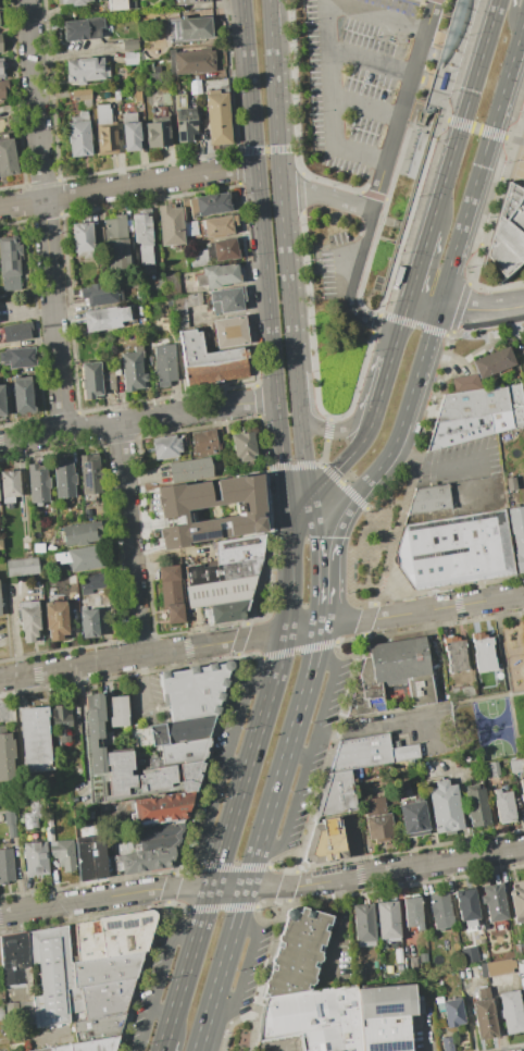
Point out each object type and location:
building: (73, 2)
building: (191, 2)
road: (447, 2)
building: (116, 4)
road: (512, 16)
building: (82, 28)
building: (188, 29)
road: (522, 30)
building: (0, 46)
building: (129, 46)
road: (330, 49)
road: (438, 51)
building: (130, 58)
building: (189, 60)
road: (456, 60)
road: (373, 63)
building: (1, 69)
building: (86, 70)
building: (152, 75)
road: (422, 77)
parking lot: (366, 79)
road: (294, 85)
building: (196, 87)
building: (2, 91)
building: (115, 94)
building: (80, 95)
building: (137, 95)
building: (104, 96)
road: (406, 104)
road: (367, 109)
road: (463, 114)
building: (216, 118)
building: (158, 128)
road: (476, 128)
building: (185, 129)
building: (105, 132)
building: (130, 132)
building: (78, 135)
road: (407, 138)
road: (275, 149)
building: (7, 157)
road: (328, 182)
road: (127, 186)
road: (299, 190)
road: (326, 195)
road: (373, 196)
road: (259, 199)
road: (498, 200)
road: (279, 202)
building: (208, 205)
road: (385, 205)
road: (411, 208)
road: (499, 210)
road: (45, 217)
building: (114, 224)
building: (217, 225)
building: (170, 226)
building: (189, 228)
building: (144, 236)
building: (83, 238)
building: (508, 238)
building: (221, 249)
building: (117, 255)
building: (197, 258)
road: (420, 262)
building: (10, 263)
road: (367, 263)
parking lot: (344, 265)
road: (321, 270)
building: (217, 275)
road: (352, 284)
road: (441, 285)
building: (188, 290)
building: (100, 294)
road: (423, 298)
building: (225, 300)
road: (459, 306)
building: (183, 308)
road: (479, 311)
road: (404, 312)
road: (310, 317)
building: (107, 318)
road: (377, 322)
road: (415, 324)
building: (17, 332)
building: (229, 333)
building: (523, 342)
road: (395, 345)
building: (17, 357)
building: (209, 360)
building: (492, 362)
building: (164, 364)
building: (133, 370)
building: (90, 380)
road: (360, 381)
building: (465, 383)
road: (383, 386)
building: (22, 395)
building: (2, 403)
road: (260, 407)
building: (476, 415)
road: (138, 420)
road: (334, 430)
road: (325, 441)
building: (204, 443)
building: (165, 446)
building: (244, 446)
road: (358, 447)
road: (324, 467)
road: (435, 468)
road: (416, 469)
building: (189, 470)
road: (305, 472)
building: (89, 477)
road: (285, 478)
road: (392, 478)
building: (63, 479)
building: (37, 483)
building: (511, 484)
building: (9, 485)
traffic signals: (313, 495)
building: (429, 498)
building: (490, 508)
building: (89, 509)
road: (302, 511)
building: (171, 512)
road: (270, 522)
road: (380, 528)
building: (79, 533)
building: (517, 534)
traffic signals: (328, 537)
road: (129, 540)
building: (0, 544)
building: (237, 548)
building: (454, 549)
building: (80, 558)
traffic signals: (292, 558)
building: (23, 567)
road: (326, 567)
building: (220, 571)
building: (72, 579)
building: (90, 582)
building: (217, 591)
building: (171, 593)
road: (292, 595)
building: (225, 610)
road: (423, 610)
road: (324, 611)
building: (55, 619)
road: (367, 619)
building: (28, 620)
building: (88, 623)
road: (305, 629)
road: (240, 639)
road: (350, 639)
road: (300, 648)
building: (483, 652)
road: (249, 654)
building: (454, 654)
road: (144, 655)
road: (503, 661)
building: (392, 675)
road: (145, 680)
building: (194, 691)
building: (467, 691)
park: (498, 705)
building: (117, 710)
building: (60, 724)
road: (372, 724)
park: (497, 728)
building: (185, 729)
building: (34, 738)
building: (109, 738)
building: (182, 752)
building: (370, 753)
road: (330, 754)
road: (301, 755)
building: (5, 756)
road: (310, 759)
road: (227, 761)
building: (126, 764)
building: (516, 764)
road: (209, 765)
road: (238, 767)
building: (490, 769)
building: (358, 774)
building: (522, 791)
building: (336, 794)
building: (445, 806)
building: (476, 806)
building: (503, 806)
building: (160, 808)
building: (32, 815)
building: (50, 817)
building: (413, 817)
building: (377, 820)
road: (429, 821)
building: (10, 823)
building: (49, 826)
road: (232, 833)
building: (160, 836)
road: (264, 839)
building: (325, 841)
building: (118, 849)
building: (62, 854)
building: (88, 855)
building: (35, 858)
building: (147, 860)
road: (273, 862)
building: (112, 865)
building: (5, 866)
road: (203, 866)
road: (237, 867)
road: (172, 887)
road: (290, 887)
road: (262, 888)
building: (517, 900)
building: (494, 902)
building: (466, 905)
road: (224, 908)
road: (259, 910)
building: (441, 910)
building: (412, 913)
road: (184, 918)
building: (387, 920)
building: (363, 925)
road: (335, 929)
building: (125, 932)
building: (87, 941)
building: (519, 950)
building: (297, 952)
building: (398, 955)
building: (469, 955)
building: (13, 957)
building: (423, 957)
building: (412, 964)
building: (520, 965)
building: (498, 966)
building: (105, 969)
road: (247, 972)
building: (360, 972)
road: (264, 975)
building: (52, 976)
road: (142, 976)
road: (163, 978)
building: (105, 998)
building: (386, 1002)
building: (419, 1005)
building: (26, 1011)
building: (12, 1012)
road: (164, 1012)
building: (452, 1012)
building: (511, 1012)
building: (1, 1013)
building: (484, 1015)
road: (469, 1018)
building: (311, 1019)
road: (232, 1026)
building: (97, 1027)
building: (384, 1034)
road: (166, 1042)
building: (447, 1043)
building: (86, 1044)
parking lot: (278, 1044)
road: (277, 1046)
parking lot: (3, 1049)

